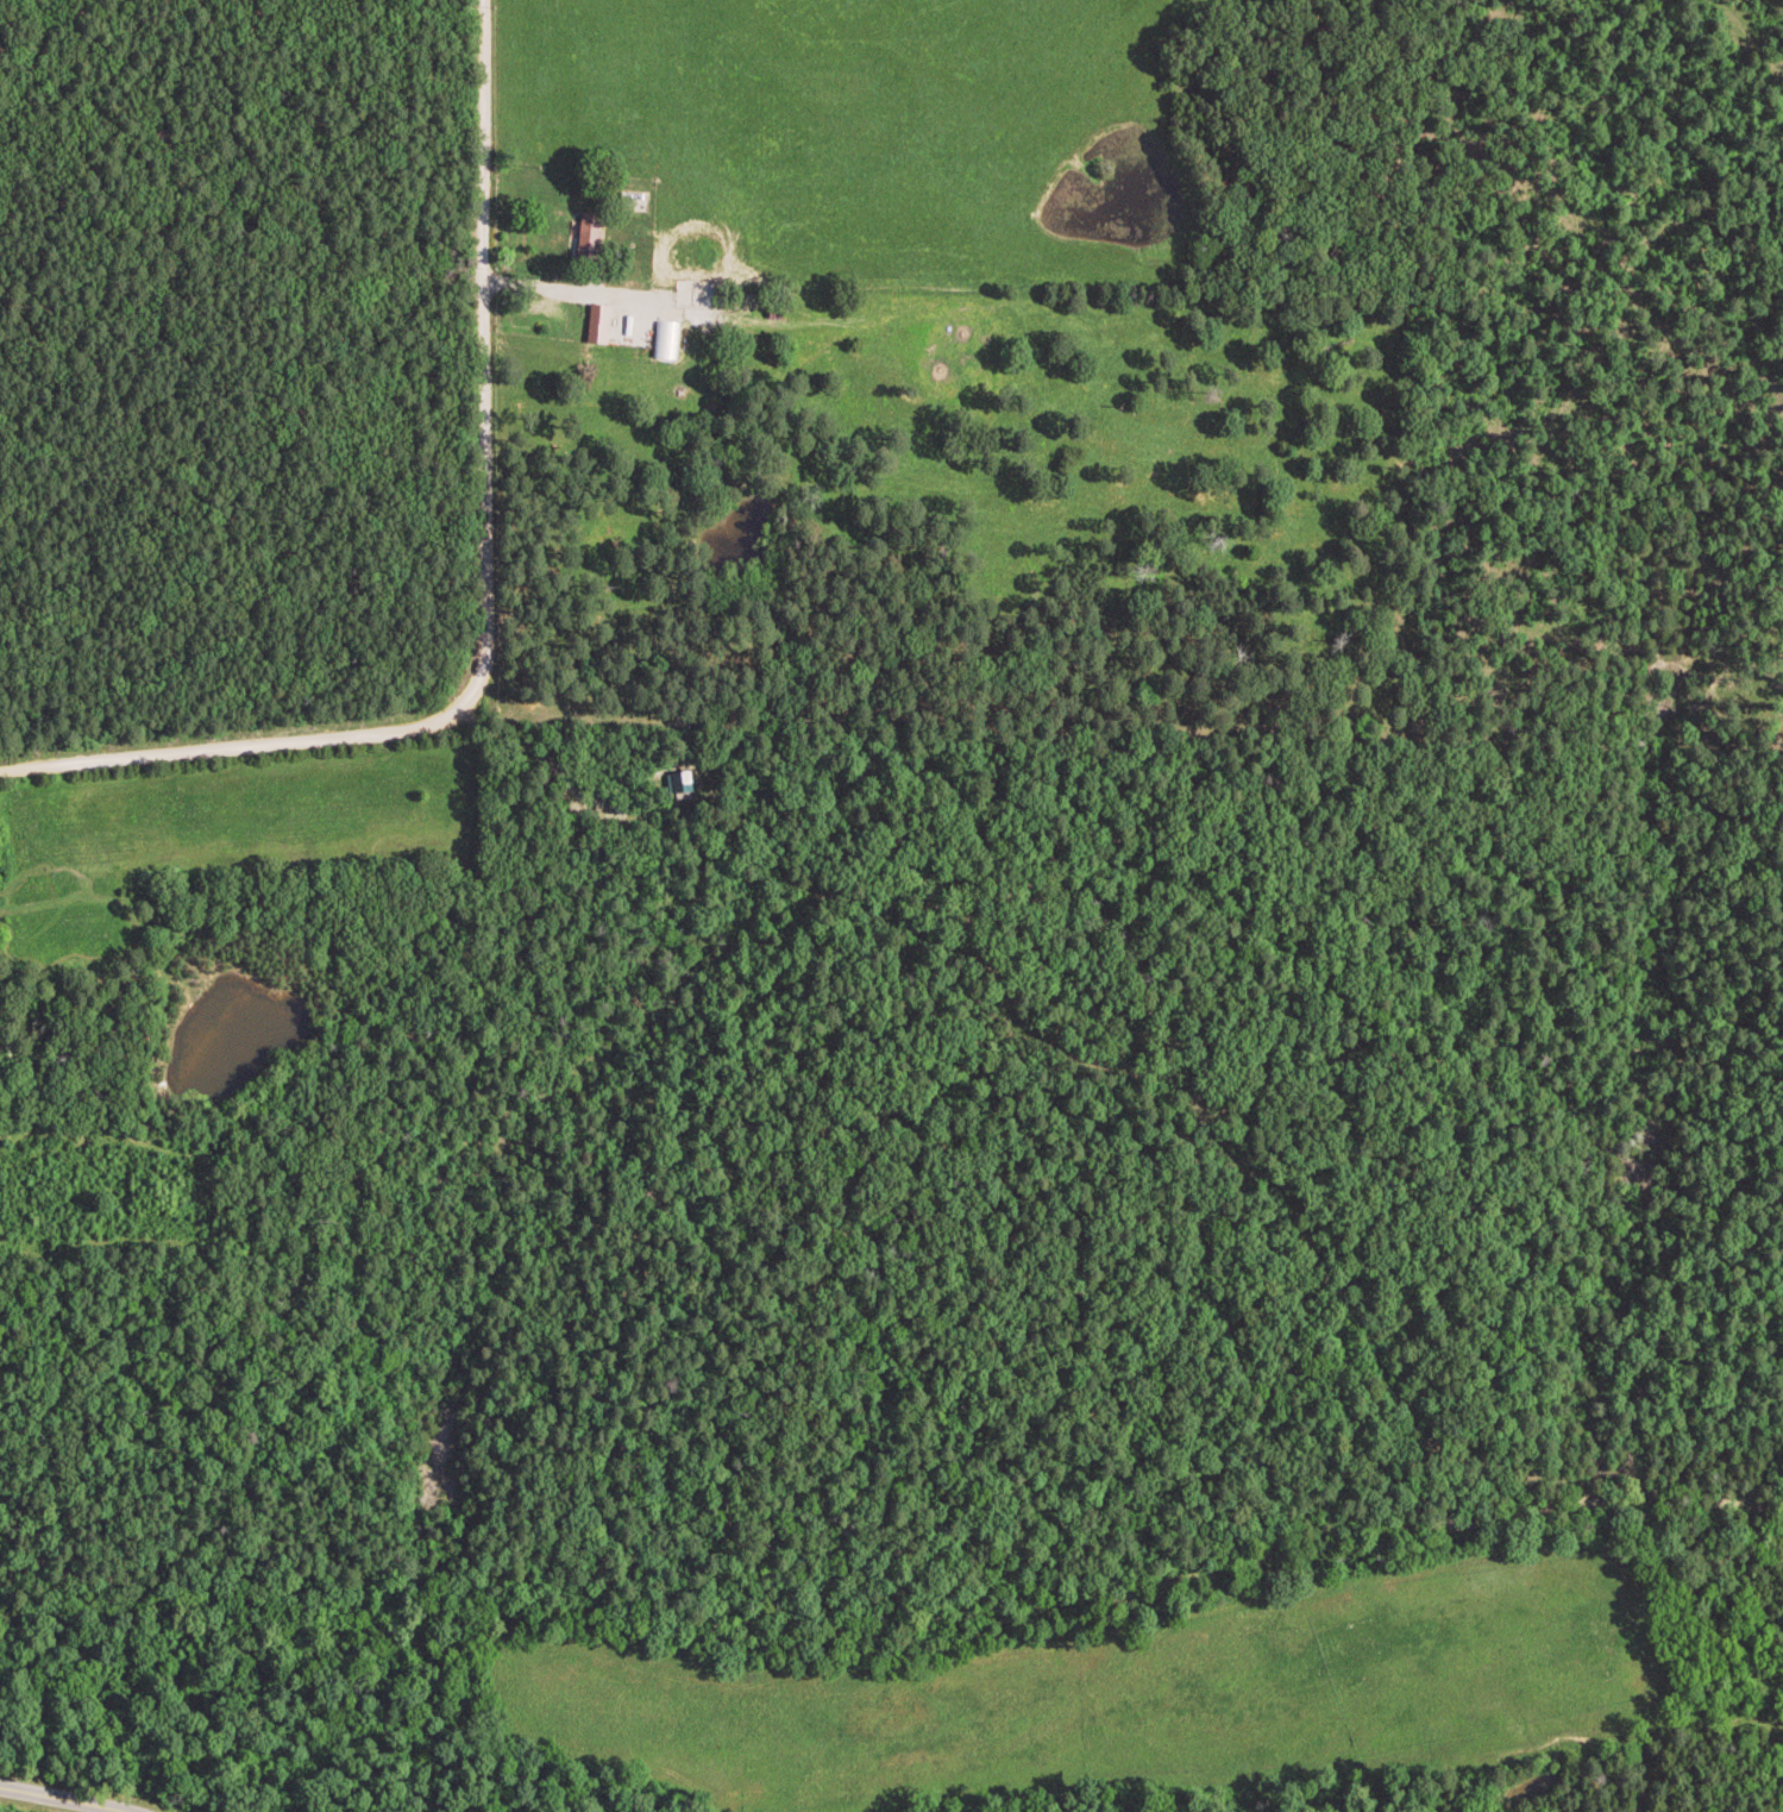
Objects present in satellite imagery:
road: (601, 284)
building: (603, 322)
building: (668, 340)
road: (478, 588)
road: (51, 1797)

